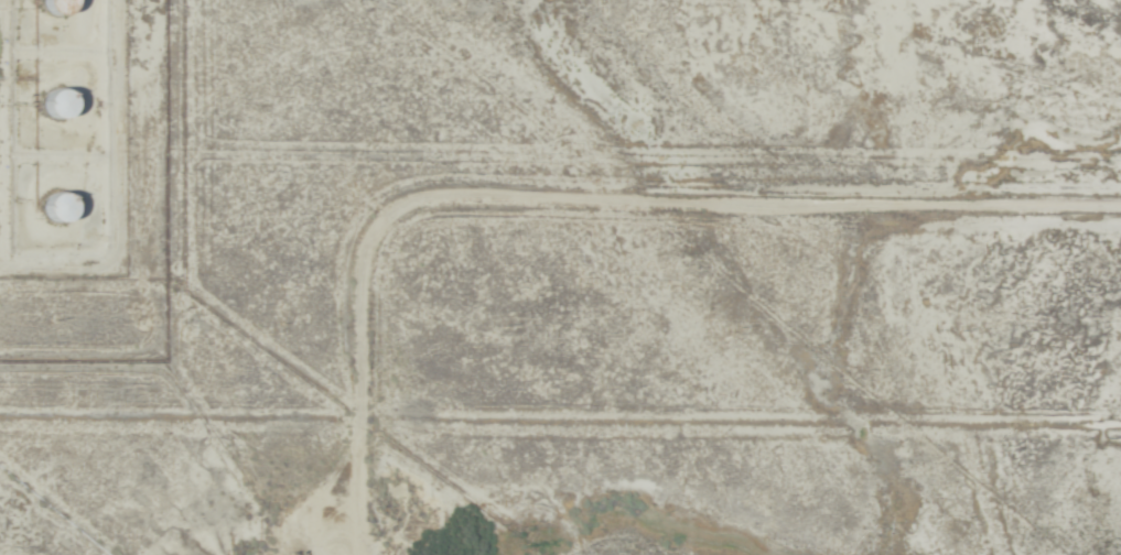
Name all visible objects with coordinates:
building: (51, 105)
building: (53, 208)

